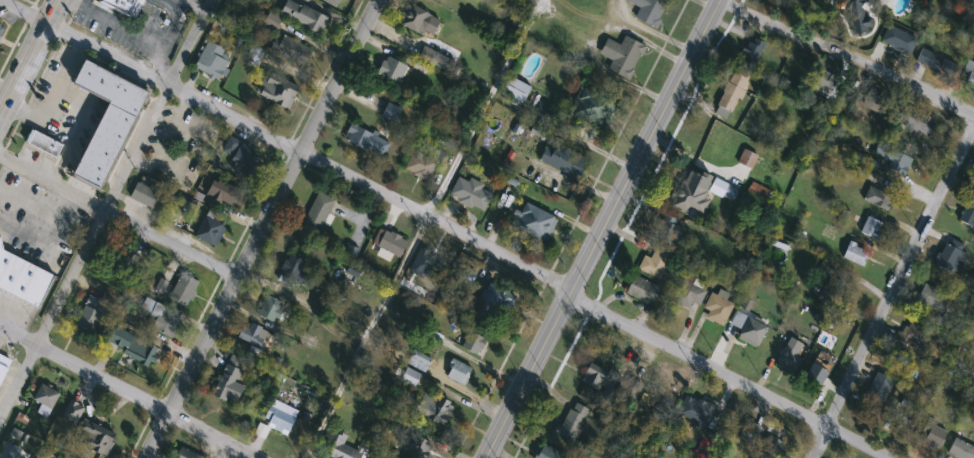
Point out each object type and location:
road: (187, 0)
building: (881, 1)
building: (332, 2)
building: (970, 2)
building: (123, 5)
road: (196, 5)
building: (650, 10)
building: (854, 15)
building: (304, 16)
building: (419, 21)
building: (1, 26)
building: (2, 33)
building: (899, 40)
building: (293, 51)
building: (751, 53)
road: (848, 54)
building: (622, 56)
road: (28, 58)
building: (213, 60)
building: (936, 62)
building: (391, 70)
building: (969, 74)
building: (825, 83)
building: (515, 90)
building: (733, 91)
building: (279, 92)
building: (877, 103)
road: (156, 104)
road: (481, 109)
building: (391, 112)
building: (106, 121)
building: (915, 121)
building: (366, 141)
building: (43, 142)
road: (287, 144)
building: (242, 158)
building: (895, 159)
building: (562, 160)
building: (423, 164)
road: (52, 182)
building: (225, 193)
building: (470, 193)
building: (144, 195)
building: (686, 197)
building: (877, 198)
building: (317, 215)
building: (968, 215)
building: (535, 222)
road: (597, 227)
road: (259, 228)
building: (872, 228)
building: (211, 229)
railway: (600, 229)
building: (670, 231)
road: (169, 243)
building: (391, 244)
building: (856, 254)
building: (953, 257)
building: (654, 264)
building: (296, 272)
building: (463, 274)
building: (22, 279)
building: (183, 290)
building: (643, 290)
building: (690, 296)
building: (932, 298)
road: (895, 299)
building: (496, 300)
building: (718, 309)
building: (271, 310)
road: (51, 312)
building: (93, 312)
building: (161, 316)
building: (749, 329)
building: (253, 335)
building: (913, 336)
road: (363, 338)
building: (472, 343)
building: (131, 345)
building: (790, 354)
building: (419, 361)
building: (4, 368)
building: (458, 372)
building: (816, 374)
road: (726, 376)
building: (410, 377)
building: (596, 379)
building: (229, 381)
road: (128, 392)
building: (630, 393)
building: (876, 393)
building: (45, 396)
building: (702, 404)
building: (434, 410)
building: (899, 415)
building: (279, 419)
building: (574, 421)
building: (750, 432)
building: (933, 436)
building: (93, 440)
building: (335, 441)
building: (774, 442)
building: (961, 449)
building: (549, 453)
building: (186, 454)

